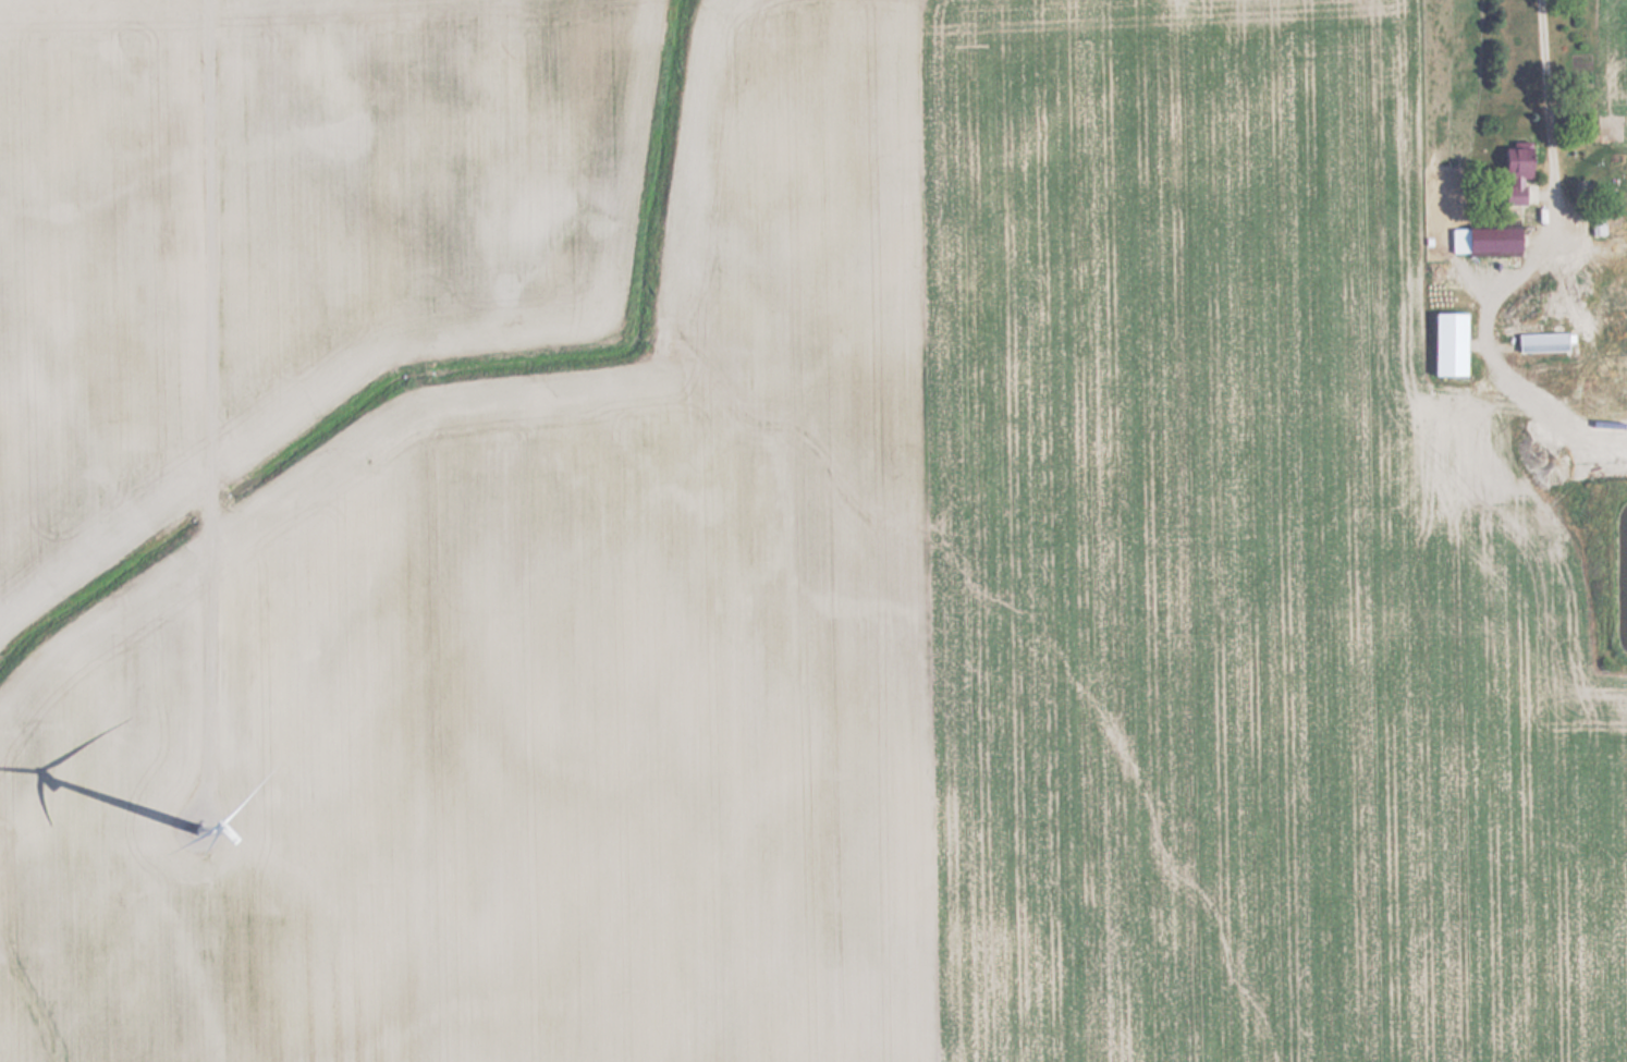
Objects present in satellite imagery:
building: (1507, 174)
building: (1593, 219)
building: (1479, 240)
building: (1585, 322)
building: (1441, 343)
road: (204, 376)
wind turbine: (198, 828)

